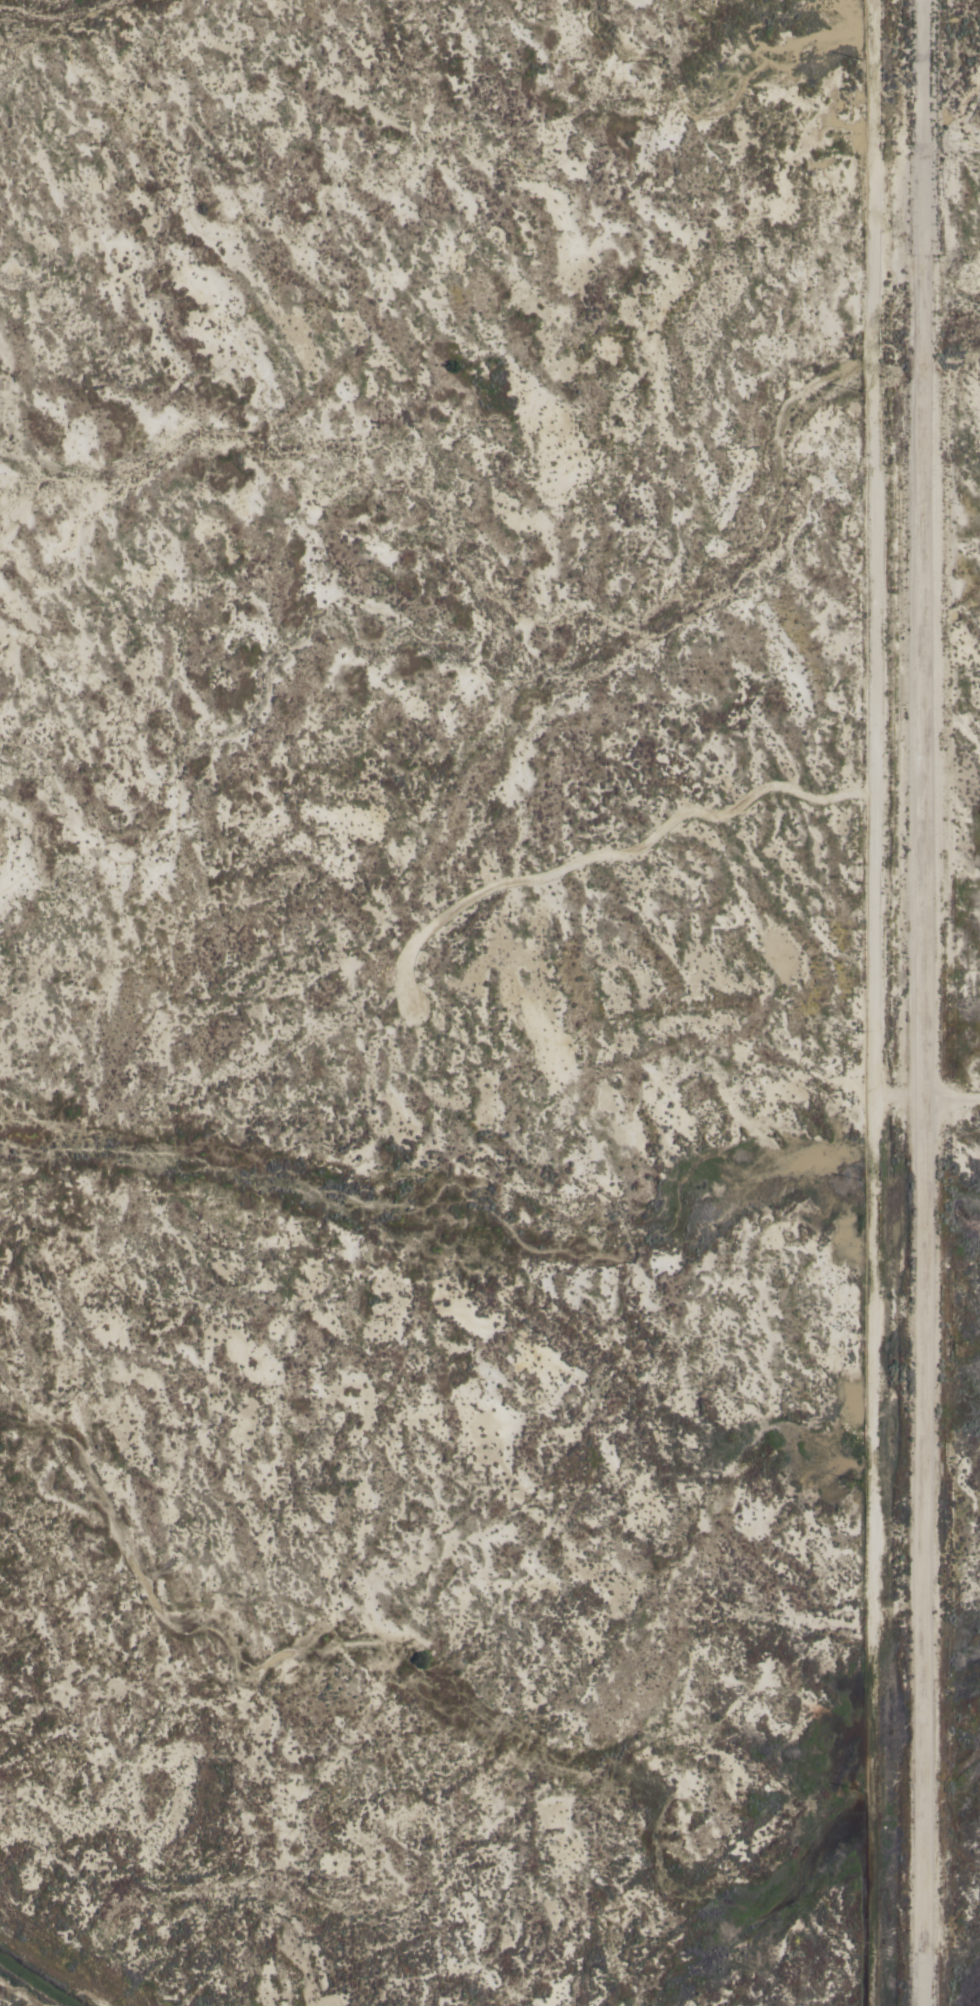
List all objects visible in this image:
road: (874, 1002)
road: (922, 1002)

